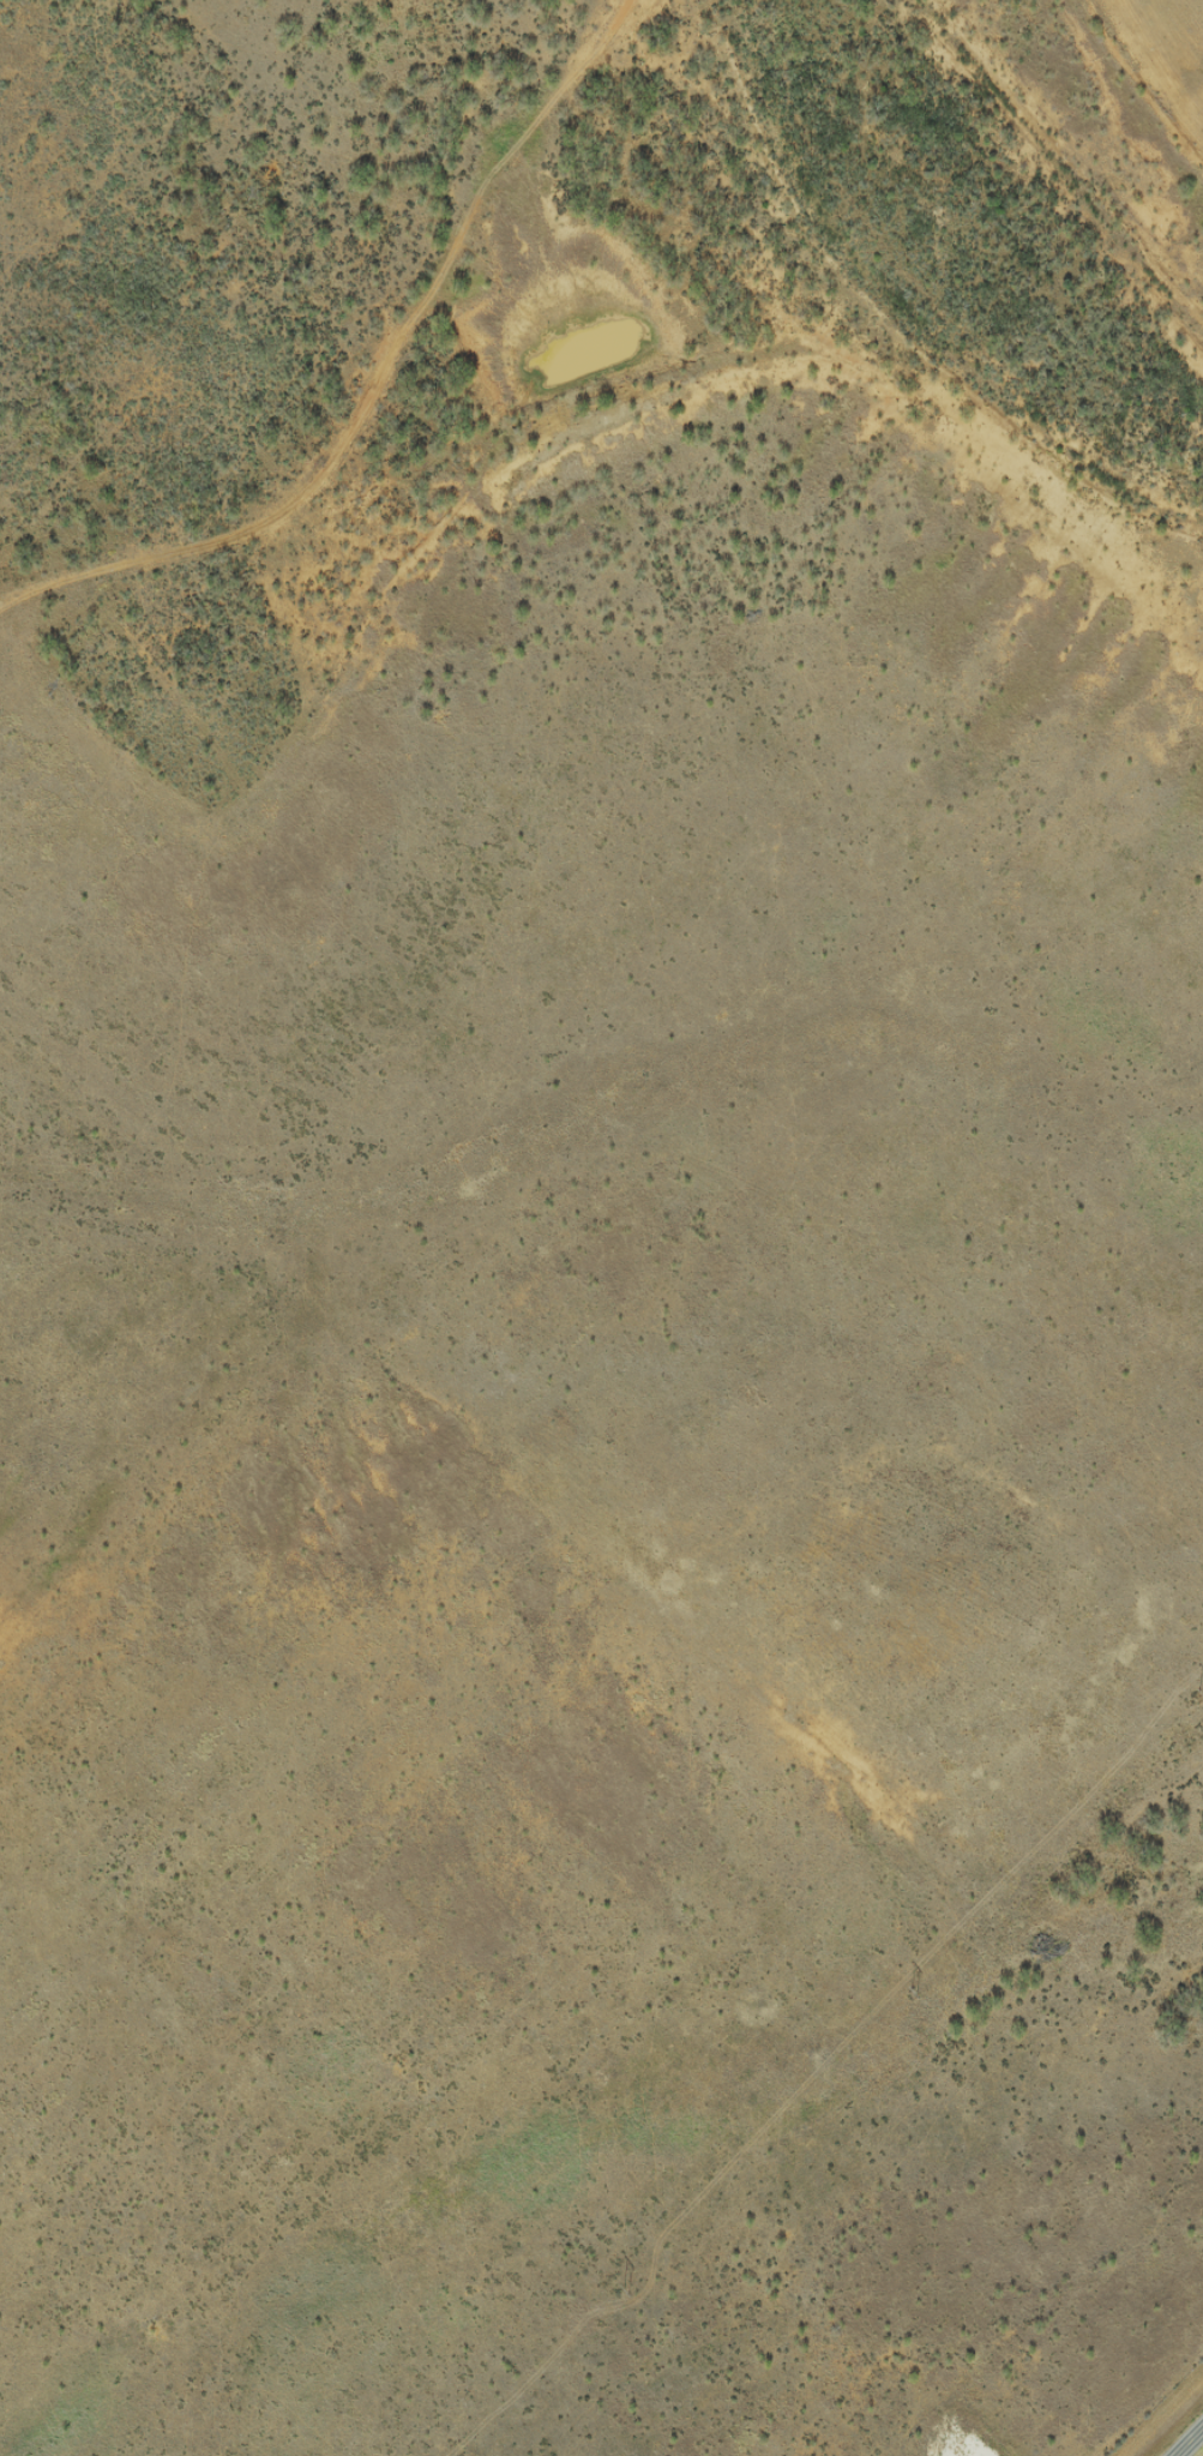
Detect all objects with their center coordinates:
road: (630, 96)
road: (571, 1469)
power tower: (1201, 1697)
power tower: (913, 1994)
power tower: (628, 2292)
road: (1192, 2445)

